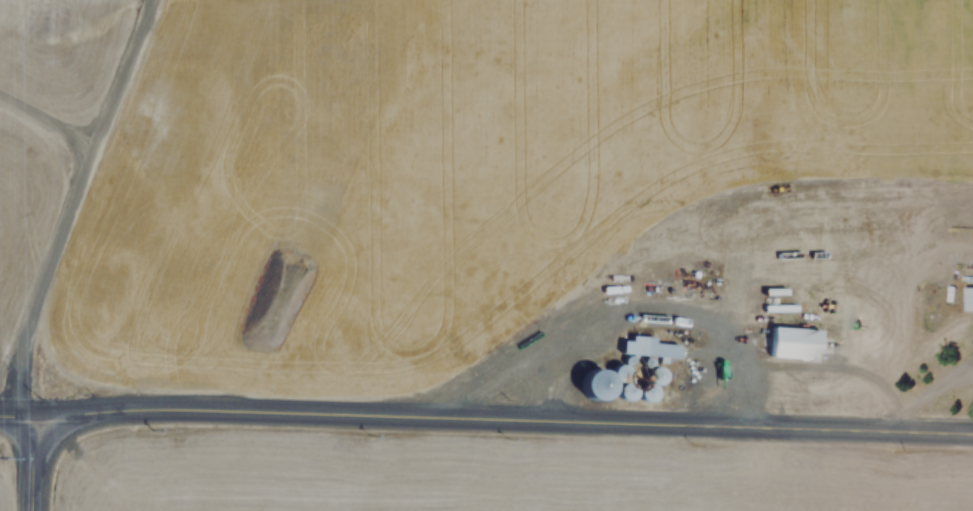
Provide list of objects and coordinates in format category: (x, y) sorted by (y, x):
road: (44, 110)
road: (62, 200)
building: (969, 299)
building: (796, 342)
building: (644, 346)
road: (486, 407)
road: (33, 459)

